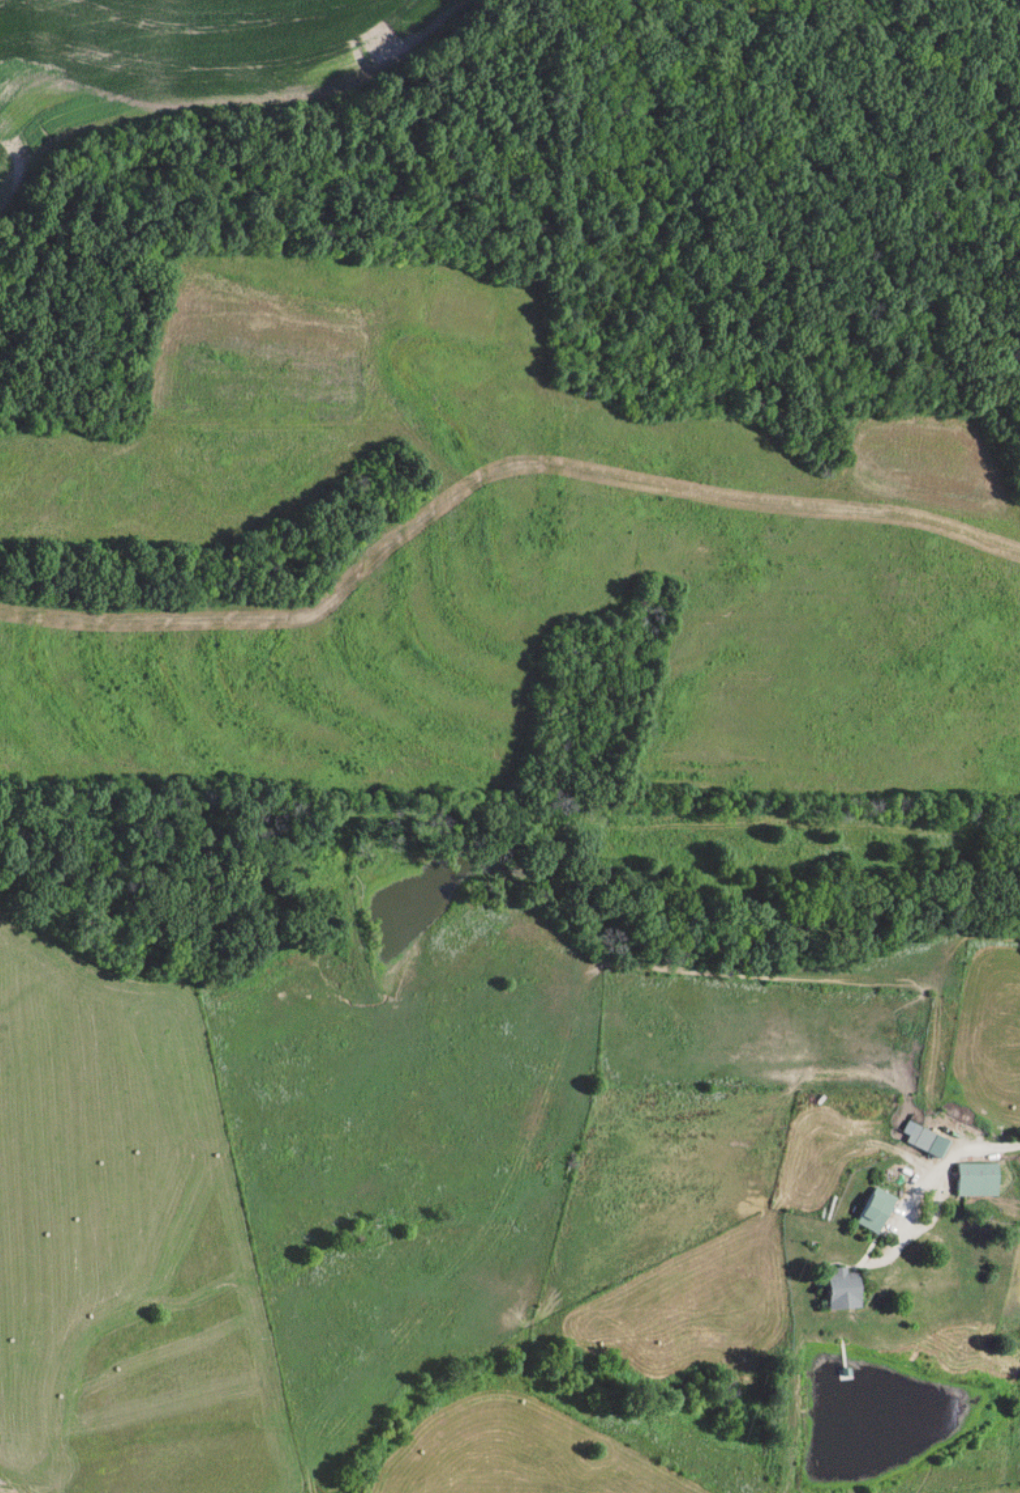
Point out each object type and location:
building: (922, 1139)
building: (974, 1179)
building: (872, 1210)
road: (910, 1229)
building: (840, 1289)

